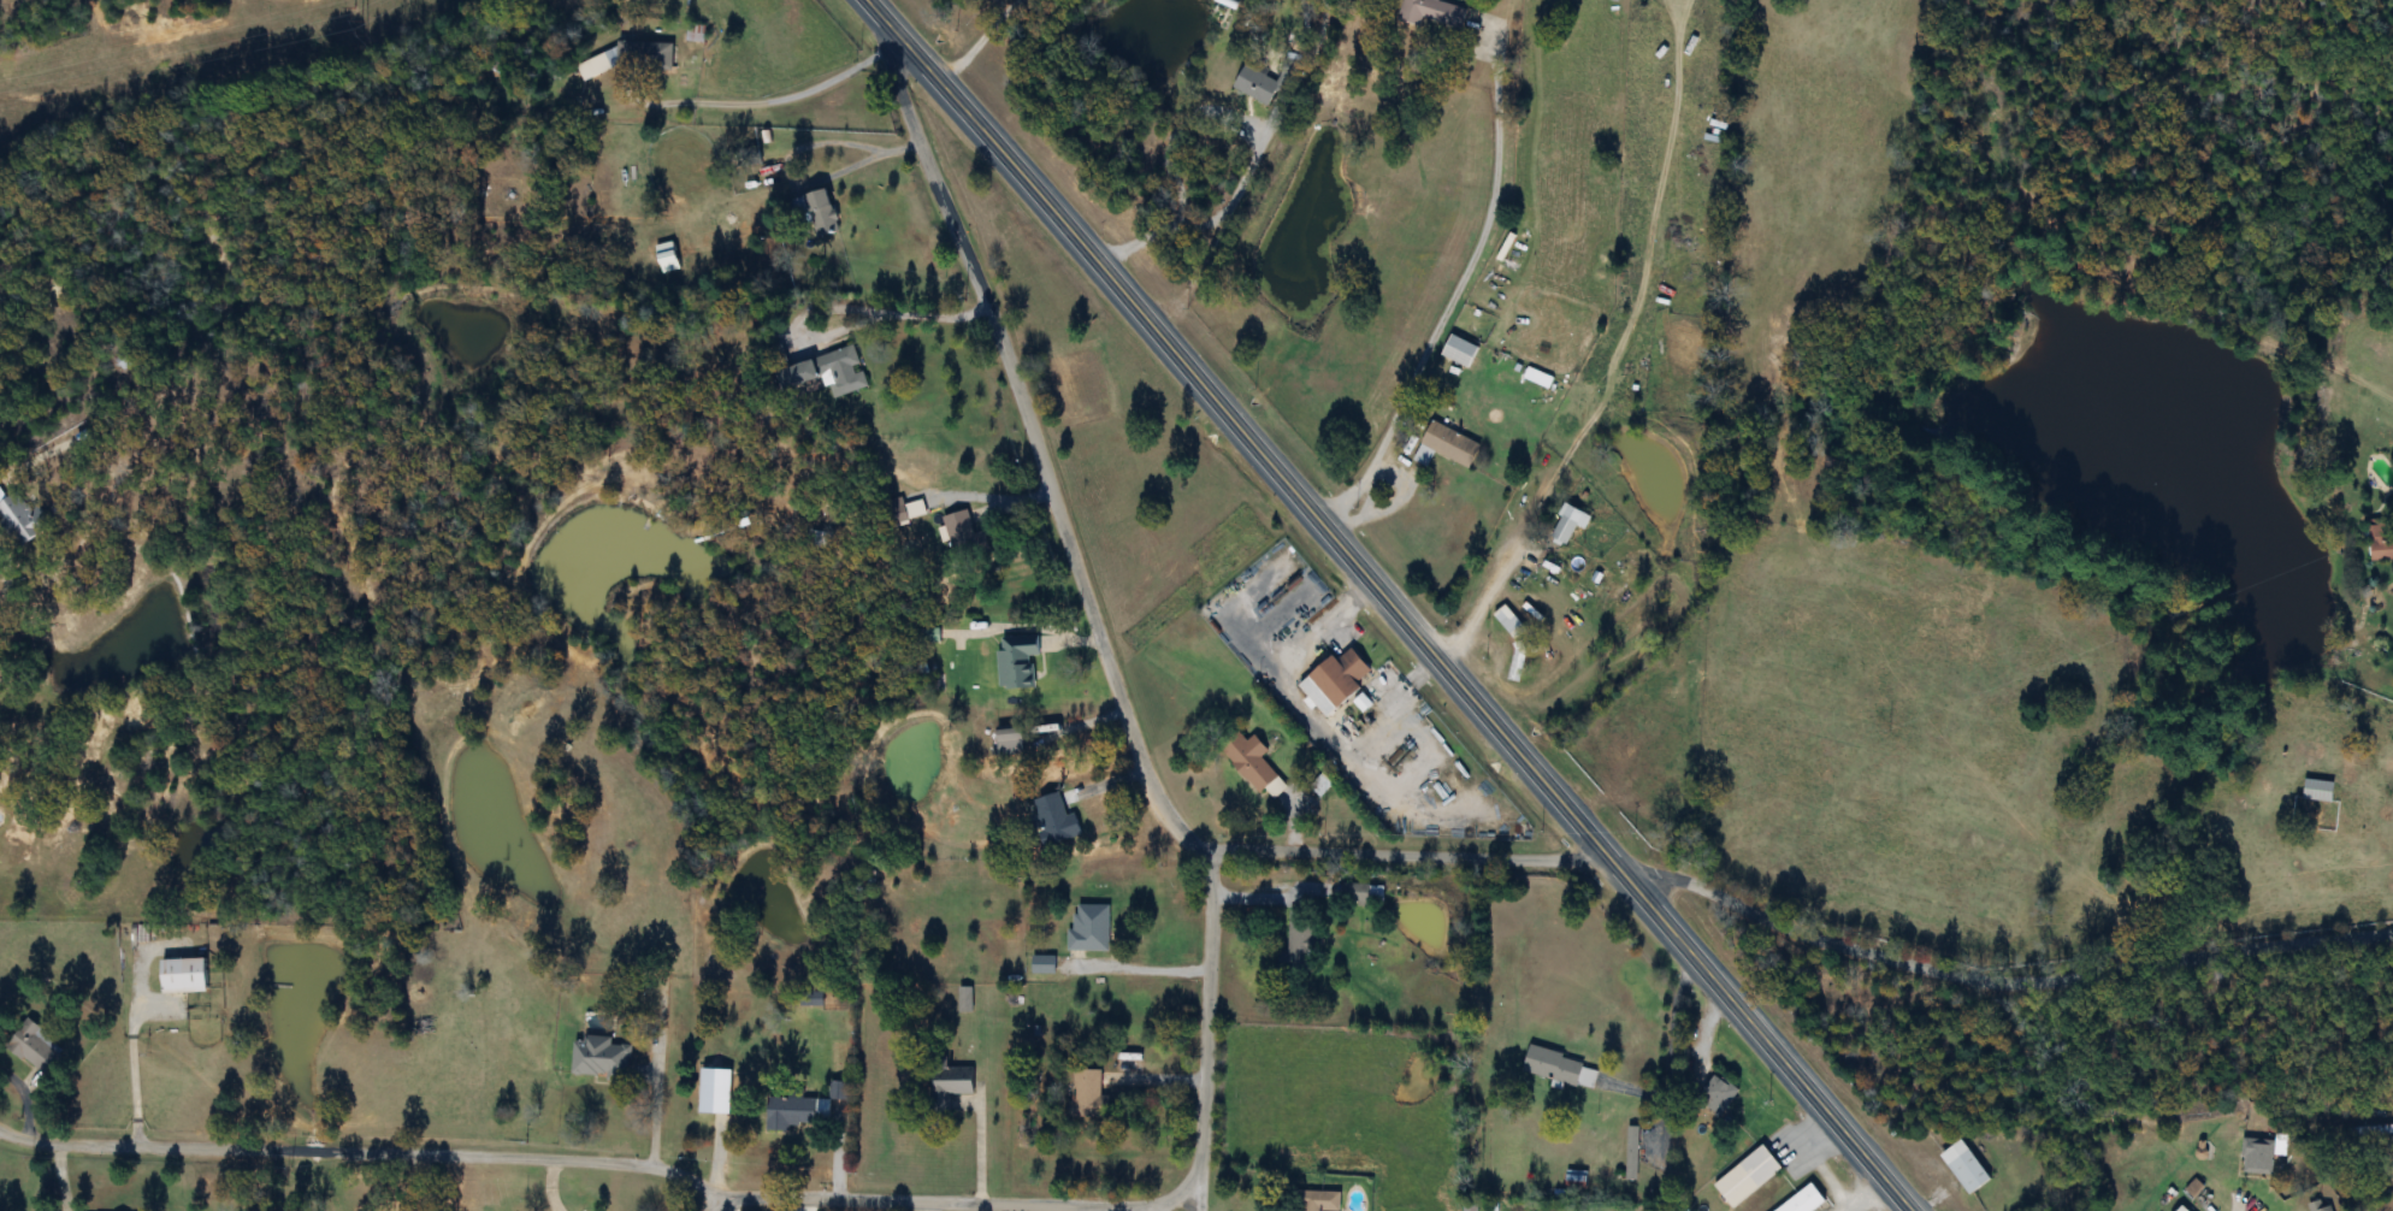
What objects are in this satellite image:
building: (1431, 13)
power tower: (358, 22)
road: (974, 41)
building: (633, 59)
building: (1257, 87)
road: (761, 95)
road: (796, 173)
building: (821, 213)
road: (1201, 223)
road: (851, 312)
building: (1460, 353)
building: (826, 372)
road: (1036, 444)
building: (1448, 447)
building: (896, 512)
building: (22, 516)
building: (1568, 525)
building: (965, 537)
building: (2381, 543)
road: (1484, 597)
road: (1390, 602)
building: (1508, 621)
building: (1017, 661)
building: (1518, 663)
building: (1335, 680)
building: (1010, 740)
building: (1618, 745)
building: (1251, 763)
building: (1661, 782)
building: (2318, 792)
building: (1054, 820)
building: (1355, 894)
building: (1089, 929)
road: (1801, 929)
building: (1300, 951)
road: (1140, 962)
building: (1042, 965)
building: (183, 976)
road: (1204, 1028)
building: (36, 1047)
building: (599, 1058)
building: (1554, 1068)
building: (949, 1085)
building: (1086, 1094)
building: (1718, 1095)
building: (790, 1113)
building: (2389, 1144)
building: (1632, 1154)
building: (2259, 1157)
road: (602, 1164)
building: (1964, 1168)
building: (1747, 1177)
building: (1577, 1178)
road: (702, 1195)
building: (1316, 1201)
building: (1803, 1201)
road: (1199, 1206)
building: (2318, 1207)
building: (2181, 1209)

